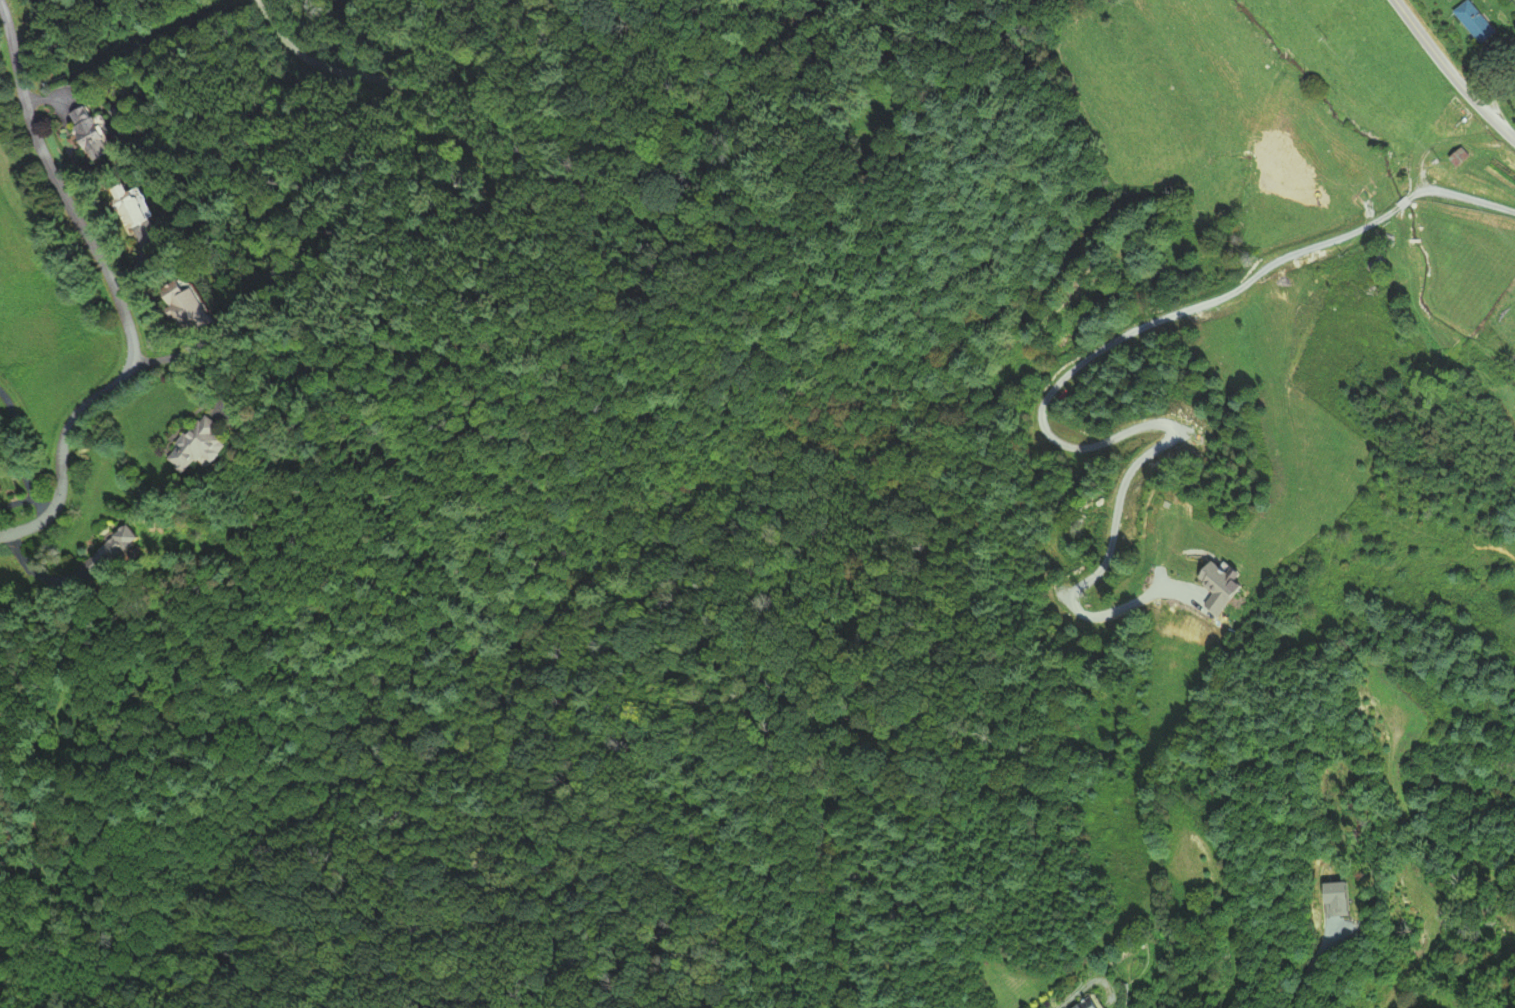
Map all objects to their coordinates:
building: (1472, 22)
road: (310, 60)
road: (1450, 73)
building: (1453, 112)
building: (101, 132)
road: (1466, 200)
building: (143, 210)
road: (115, 290)
building: (196, 309)
building: (205, 444)
building: (117, 550)
building: (3, 979)

